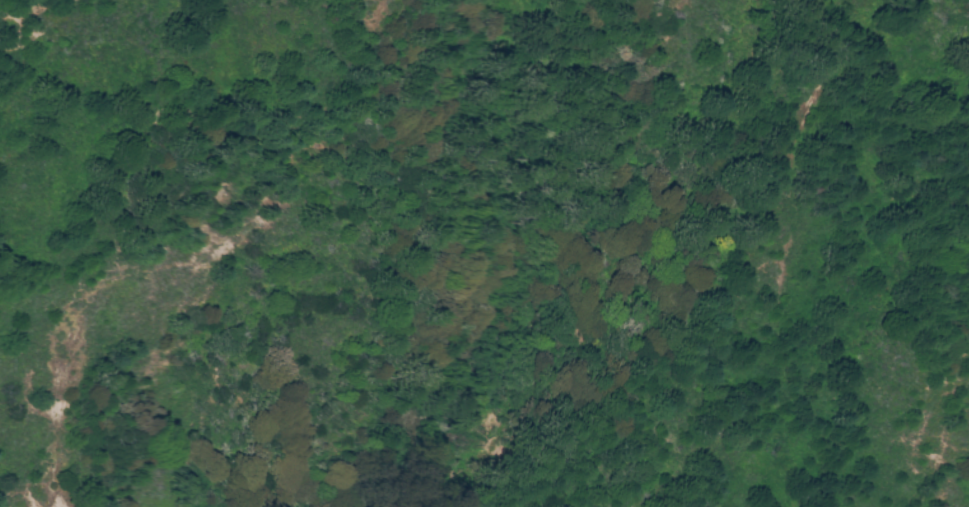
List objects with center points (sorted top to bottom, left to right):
road: (758, 251)

